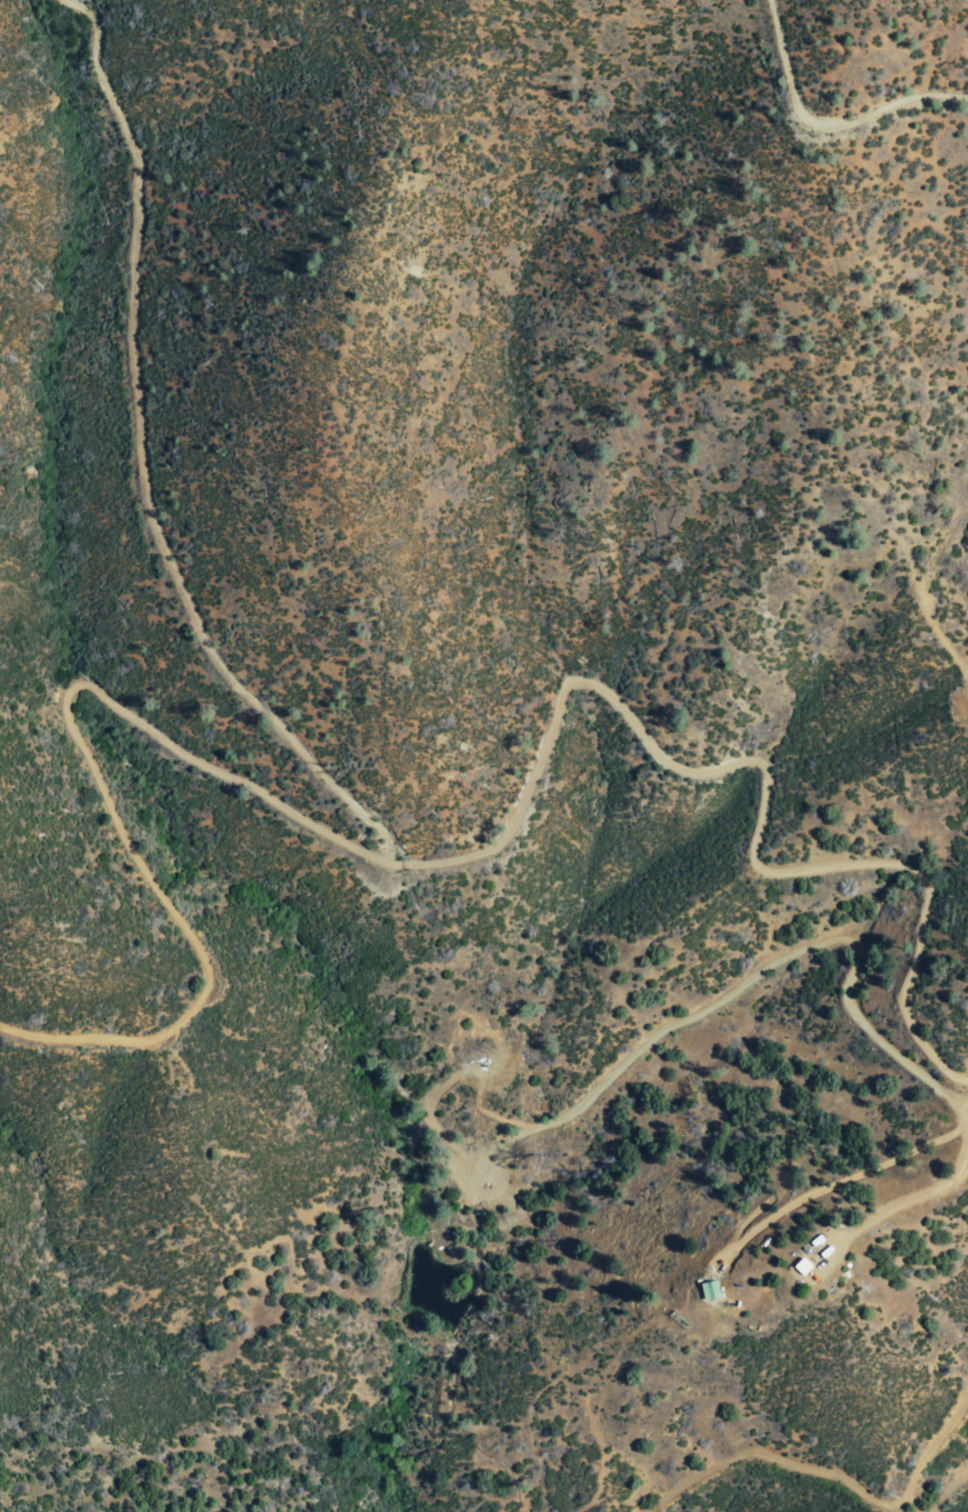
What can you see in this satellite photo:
building: (452, 1251)
building: (802, 1267)
building: (709, 1290)

